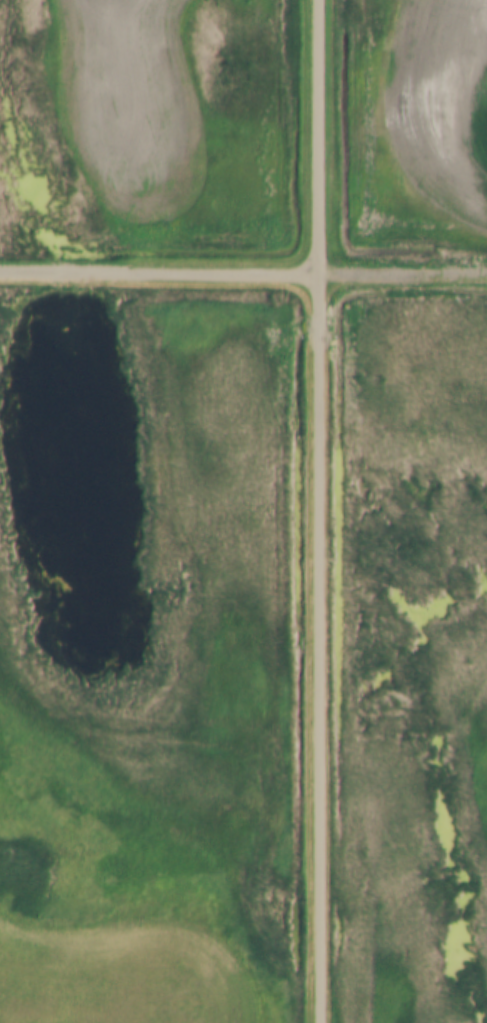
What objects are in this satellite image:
road: (159, 272)
road: (403, 274)
road: (319, 511)

